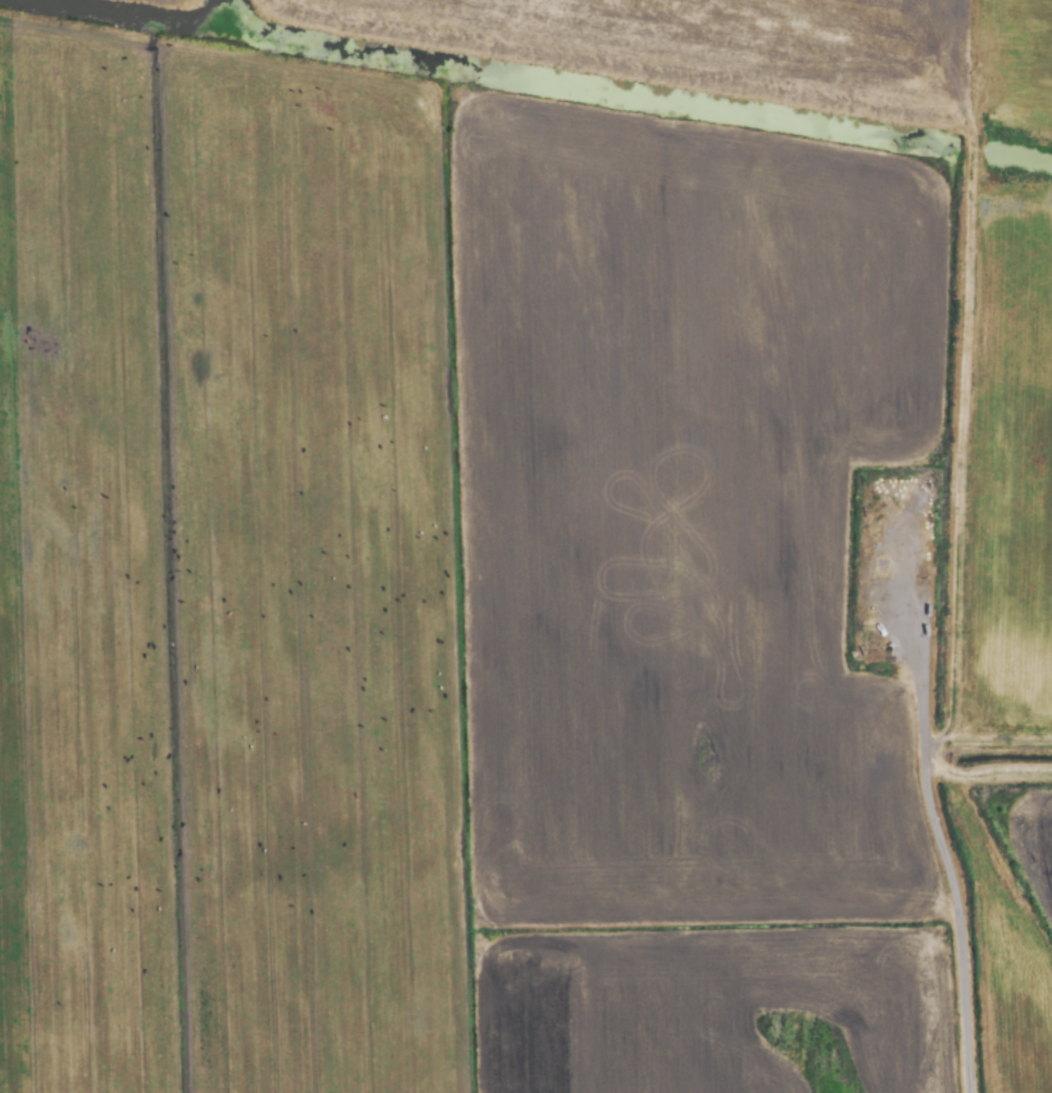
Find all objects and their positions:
crop: (525, 546)
road: (957, 922)

